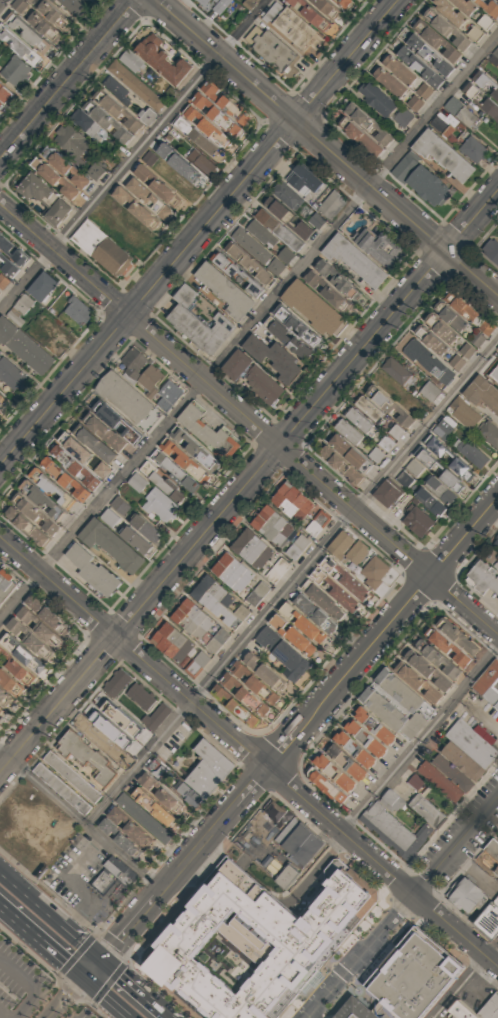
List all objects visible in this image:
building: (354, 0)
building: (89, 1)
building: (253, 1)
road: (2, 3)
building: (346, 3)
building: (20, 4)
building: (216, 4)
building: (75, 6)
building: (489, 6)
building: (327, 9)
building: (54, 15)
building: (315, 16)
building: (447, 26)
building: (289, 27)
building: (44, 28)
building: (475, 33)
building: (28, 35)
building: (19, 47)
building: (273, 50)
building: (496, 53)
building: (426, 61)
building: (155, 62)
building: (14, 70)
building: (395, 75)
road: (70, 80)
building: (481, 81)
building: (116, 89)
building: (423, 91)
building: (494, 95)
building: (378, 98)
building: (0, 105)
building: (490, 109)
building: (118, 110)
building: (460, 113)
building: (401, 118)
building: (213, 120)
building: (442, 123)
building: (364, 130)
building: (74, 141)
road: (328, 146)
building: (473, 150)
building: (442, 155)
road: (134, 156)
building: (153, 157)
building: (203, 162)
building: (182, 164)
building: (404, 168)
building: (62, 172)
building: (97, 173)
building: (304, 180)
building: (428, 187)
building: (147, 197)
building: (44, 200)
building: (331, 204)
building: (317, 219)
road: (201, 233)
building: (3, 239)
building: (378, 246)
building: (101, 250)
building: (490, 250)
building: (254, 255)
building: (287, 255)
building: (19, 257)
building: (354, 259)
building: (8, 265)
building: (3, 283)
building: (43, 286)
building: (333, 286)
building: (22, 304)
building: (313, 309)
building: (466, 309)
building: (78, 310)
building: (454, 318)
building: (197, 321)
building: (442, 327)
building: (486, 328)
road: (250, 329)
building: (294, 330)
building: (433, 340)
building: (24, 348)
building: (466, 350)
building: (497, 350)
building: (274, 357)
building: (133, 361)
building: (458, 361)
building: (430, 362)
building: (236, 364)
building: (398, 372)
building: (12, 374)
building: (494, 374)
building: (151, 377)
building: (265, 385)
building: (429, 392)
building: (168, 395)
building: (483, 395)
building: (1, 396)
building: (126, 396)
building: (391, 406)
building: (370, 409)
building: (463, 413)
road: (250, 420)
building: (361, 421)
building: (444, 425)
building: (209, 430)
building: (349, 430)
building: (108, 432)
building: (396, 432)
building: (489, 433)
building: (438, 446)
building: (195, 447)
building: (375, 455)
building: (475, 455)
building: (426, 457)
building: (348, 459)
building: (184, 460)
building: (462, 466)
building: (413, 468)
building: (103, 469)
building: (176, 471)
building: (72, 472)
building: (404, 479)
building: (453, 480)
building: (137, 482)
road: (249, 484)
building: (167, 487)
building: (440, 489)
building: (389, 494)
building: (295, 502)
building: (431, 502)
building: (162, 505)
building: (41, 506)
building: (119, 506)
building: (111, 517)
building: (419, 521)
building: (318, 522)
building: (274, 525)
building: (142, 533)
building: (112, 544)
building: (297, 547)
building: (252, 548)
building: (349, 548)
building: (492, 553)
building: (92, 570)
building: (276, 570)
building: (232, 571)
building: (373, 571)
building: (345, 577)
building: (483, 577)
road: (292, 585)
building: (6, 586)
building: (257, 593)
building: (325, 599)
building: (218, 603)
building: (316, 613)
road: (399, 613)
building: (192, 619)
building: (303, 622)
building: (301, 640)
building: (215, 641)
building: (173, 642)
building: (30, 648)
building: (281, 654)
building: (197, 664)
building: (485, 674)
building: (116, 683)
building: (249, 687)
building: (265, 690)
building: (490, 691)
building: (140, 697)
building: (496, 703)
building: (395, 707)
building: (100, 722)
road: (416, 734)
building: (473, 740)
building: (134, 741)
road: (283, 748)
road: (248, 752)
building: (463, 758)
building: (157, 769)
building: (453, 771)
building: (207, 774)
building: (71, 776)
building: (438, 778)
building: (416, 779)
road: (250, 786)
building: (60, 788)
building: (163, 792)
building: (390, 798)
building: (157, 807)
building: (425, 807)
building: (275, 808)
building: (118, 815)
road: (80, 821)
building: (110, 828)
building: (393, 828)
building: (285, 829)
building: (140, 834)
building: (303, 843)
building: (130, 844)
building: (493, 848)
road: (194, 849)
building: (488, 862)
building: (286, 874)
building: (113, 875)
parking lot: (219, 889)
road: (30, 894)
building: (465, 894)
building: (496, 895)
road: (56, 898)
road: (403, 906)
building: (490, 918)
road: (119, 936)
road: (41, 939)
road: (80, 939)
building: (253, 944)
road: (491, 946)
traffic signals: (100, 957)
building: (417, 969)
traffic signals: (83, 976)
road: (32, 985)
road: (457, 986)
road: (137, 987)
parking lot: (32, 990)
road: (65, 997)
road: (107, 997)
building: (490, 1007)
building: (356, 1010)
building: (465, 1011)
road: (4, 1014)
building: (452, 1015)
road: (310, 1017)
road: (311, 1017)

